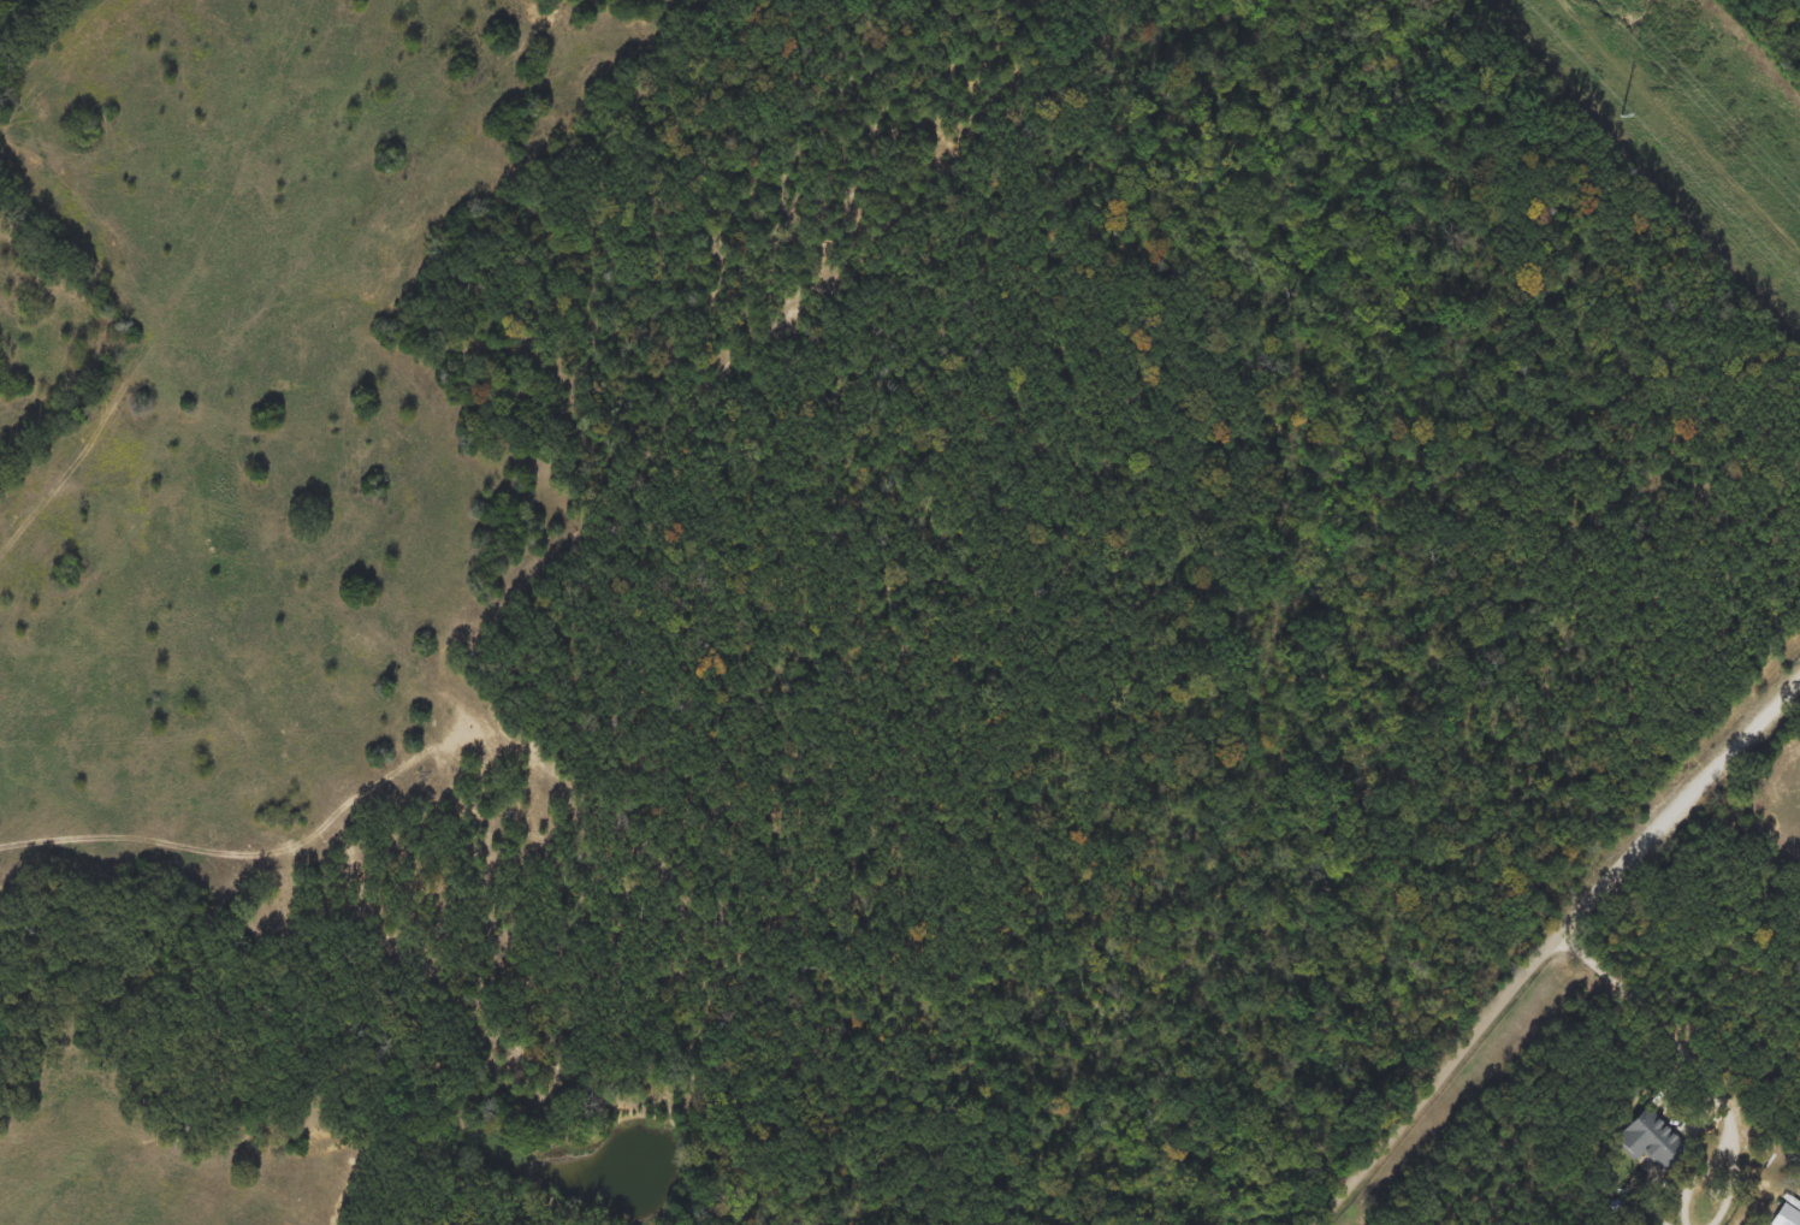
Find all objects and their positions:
road: (1553, 948)
road: (1663, 1020)
building: (1647, 1141)
road: (1700, 1174)
road: (1731, 1178)
building: (1784, 1217)

